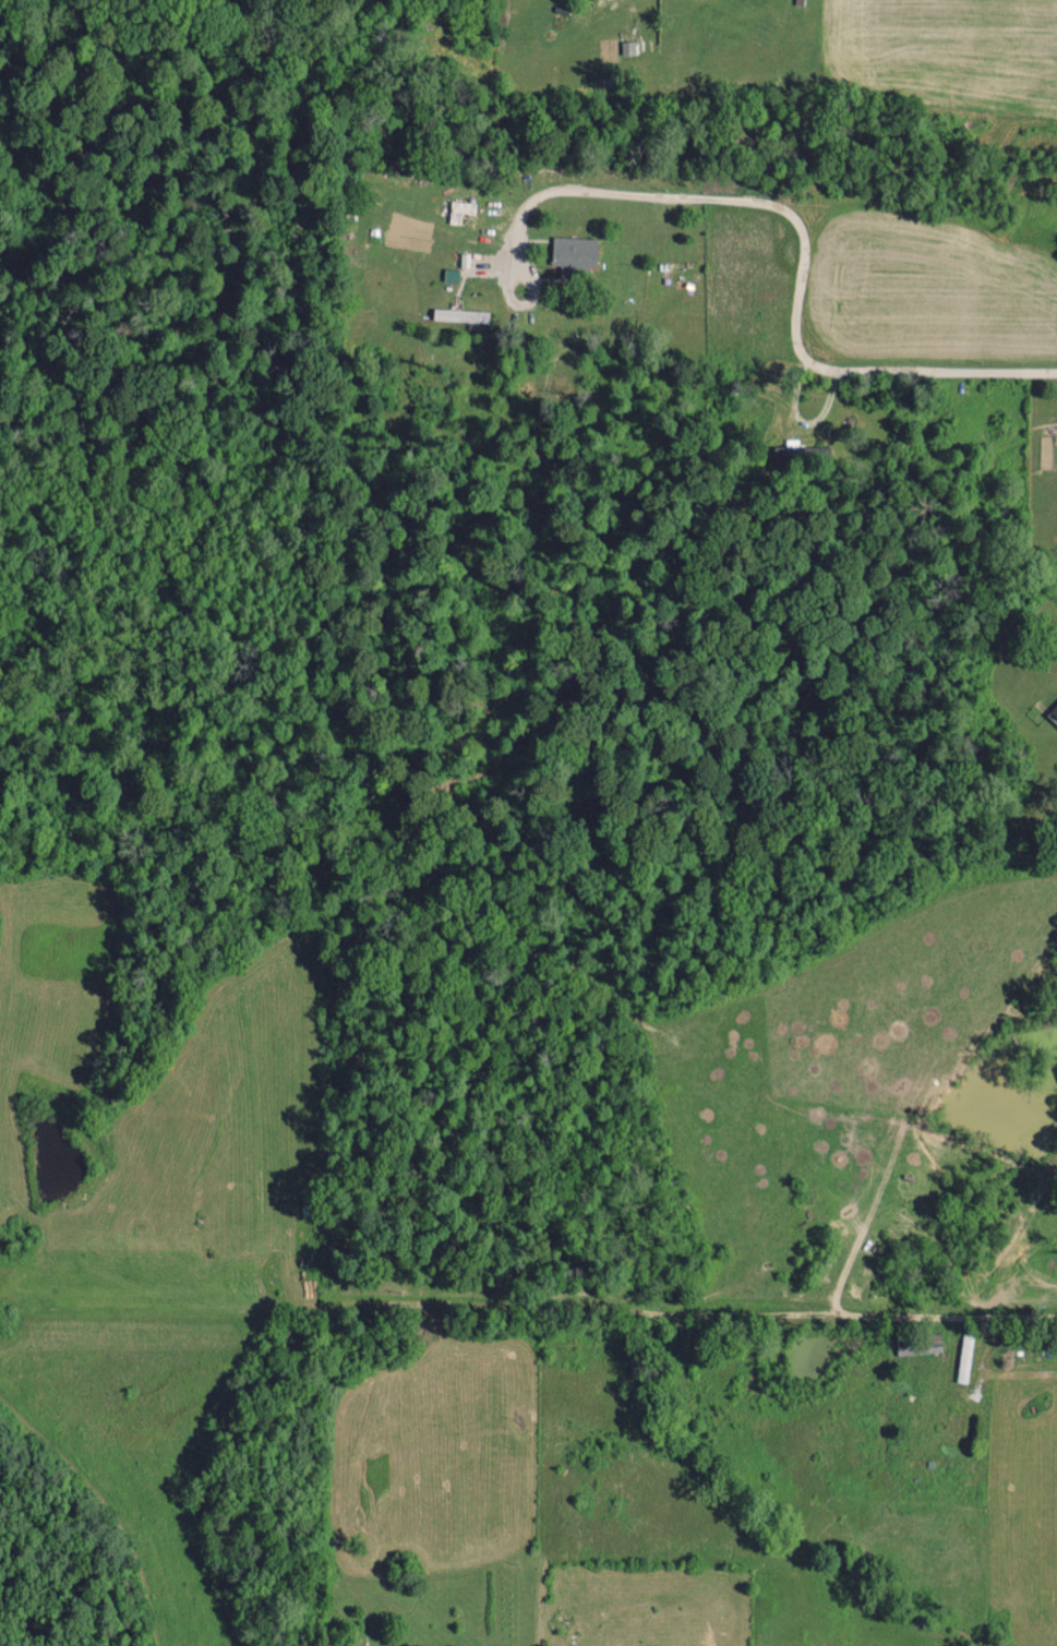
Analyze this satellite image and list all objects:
building: (458, 209)
road: (796, 217)
building: (573, 251)
building: (459, 314)
building: (1053, 714)
road: (104, 1509)
road: (548, 1518)

